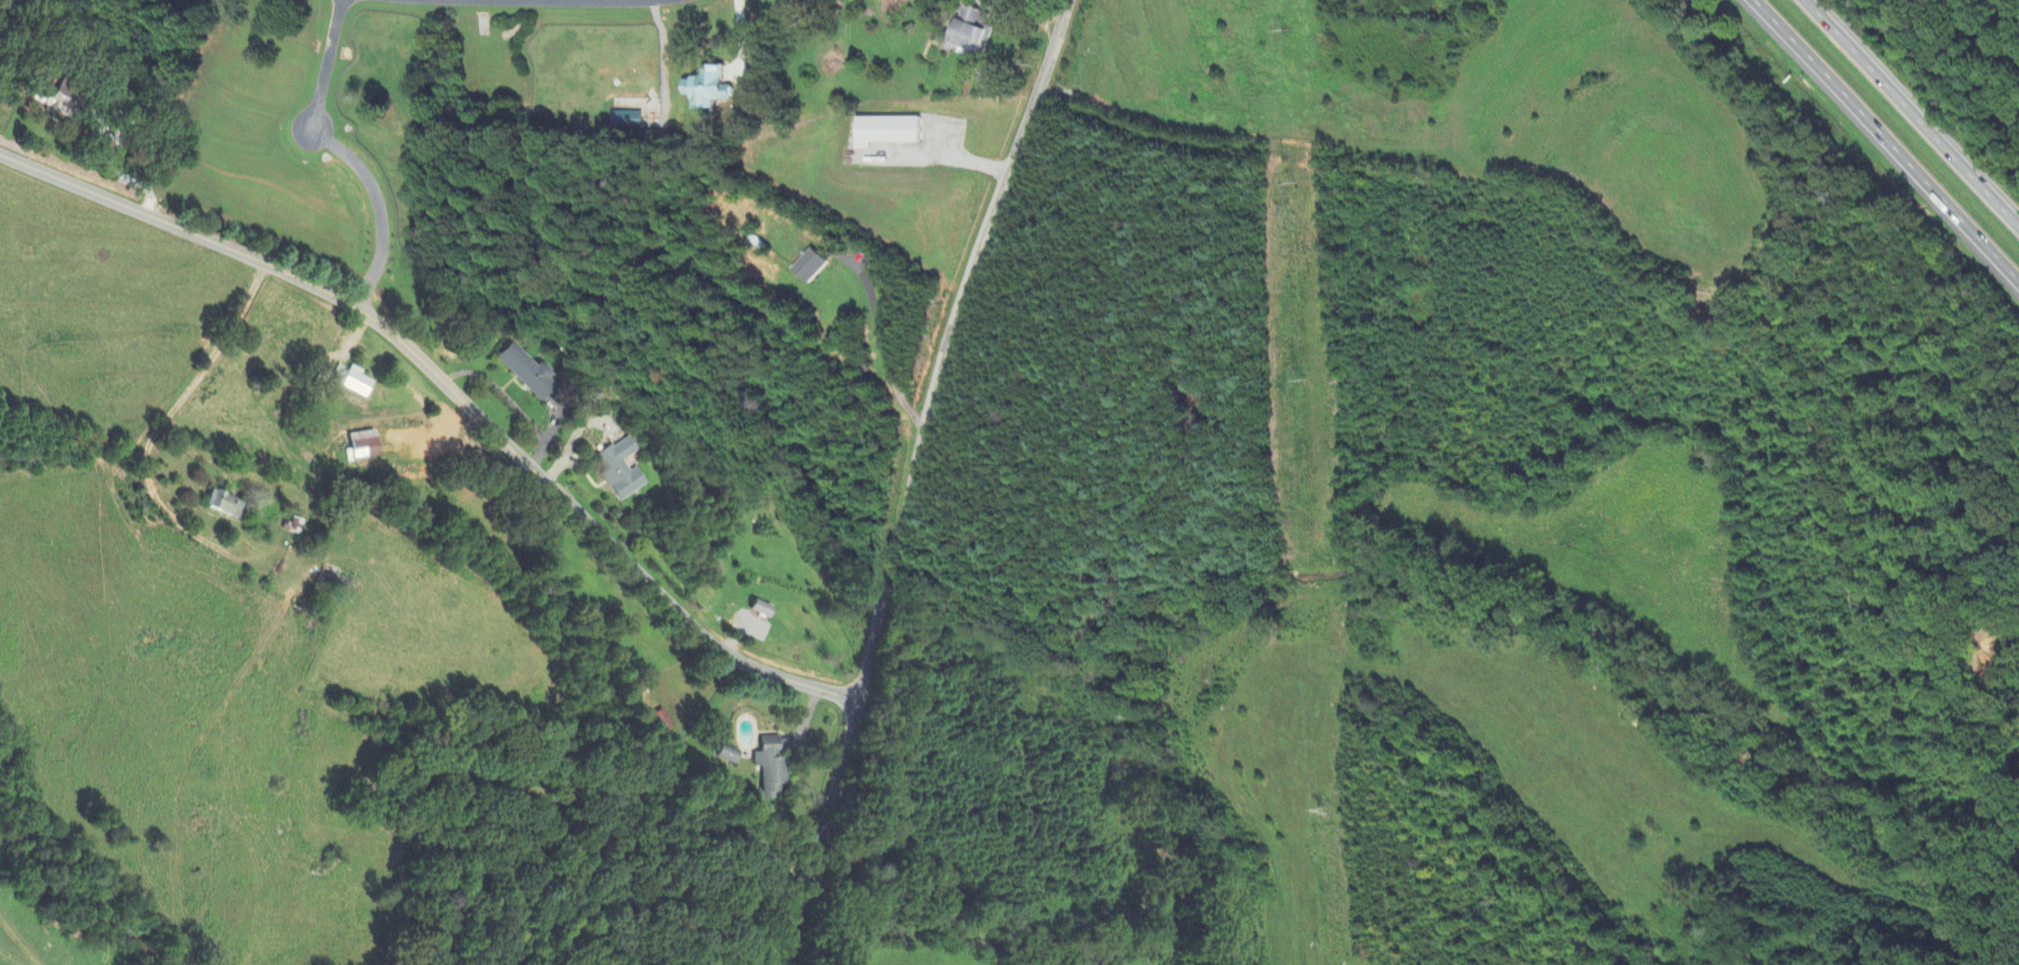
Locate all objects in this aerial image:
road: (600, 1)
building: (1000, 5)
building: (972, 34)
road: (322, 65)
building: (710, 88)
building: (620, 104)
building: (61, 105)
road: (1912, 111)
building: (629, 120)
building: (888, 131)
road: (95, 133)
road: (1880, 143)
road: (937, 156)
road: (1407, 161)
road: (1460, 170)
road: (379, 205)
building: (812, 264)
park: (1720, 308)
road: (881, 334)
building: (525, 370)
building: (353, 378)
road: (191, 388)
road: (457, 391)
road: (510, 404)
building: (366, 444)
building: (617, 466)
road: (905, 475)
building: (222, 503)
building: (331, 582)
building: (764, 610)
building: (750, 617)
building: (666, 722)
building: (729, 755)
building: (772, 764)

